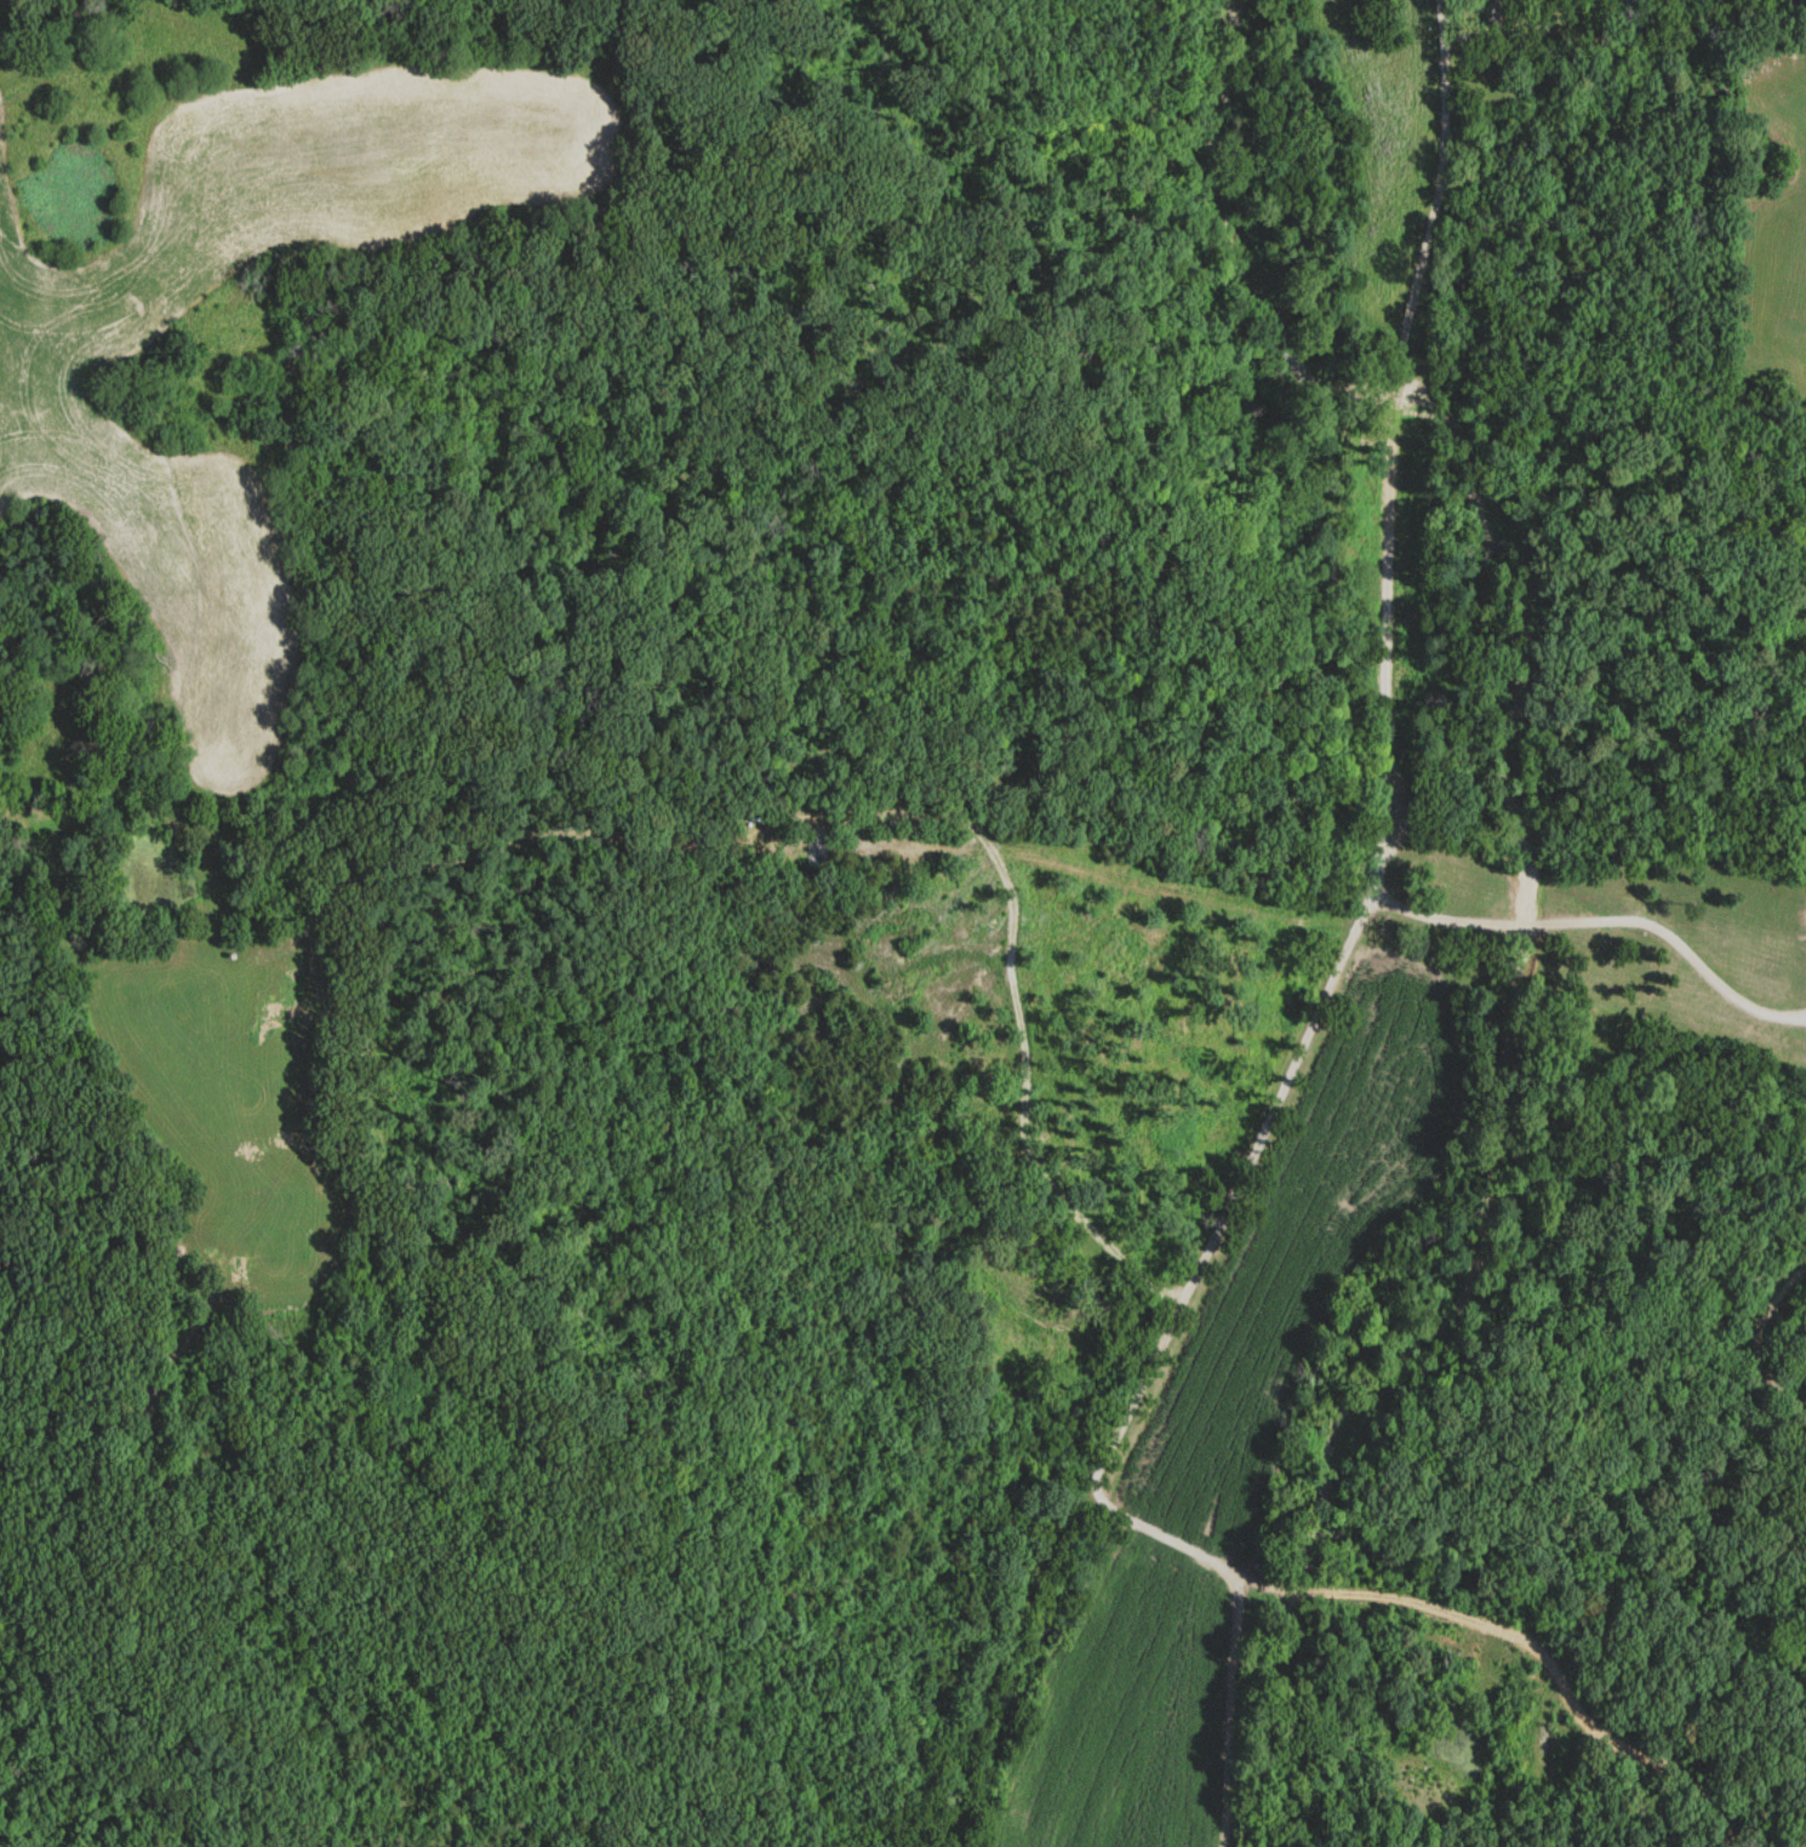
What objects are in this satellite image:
road: (1387, 579)
road: (1607, 892)
building: (903, 945)
road: (1085, 1485)

